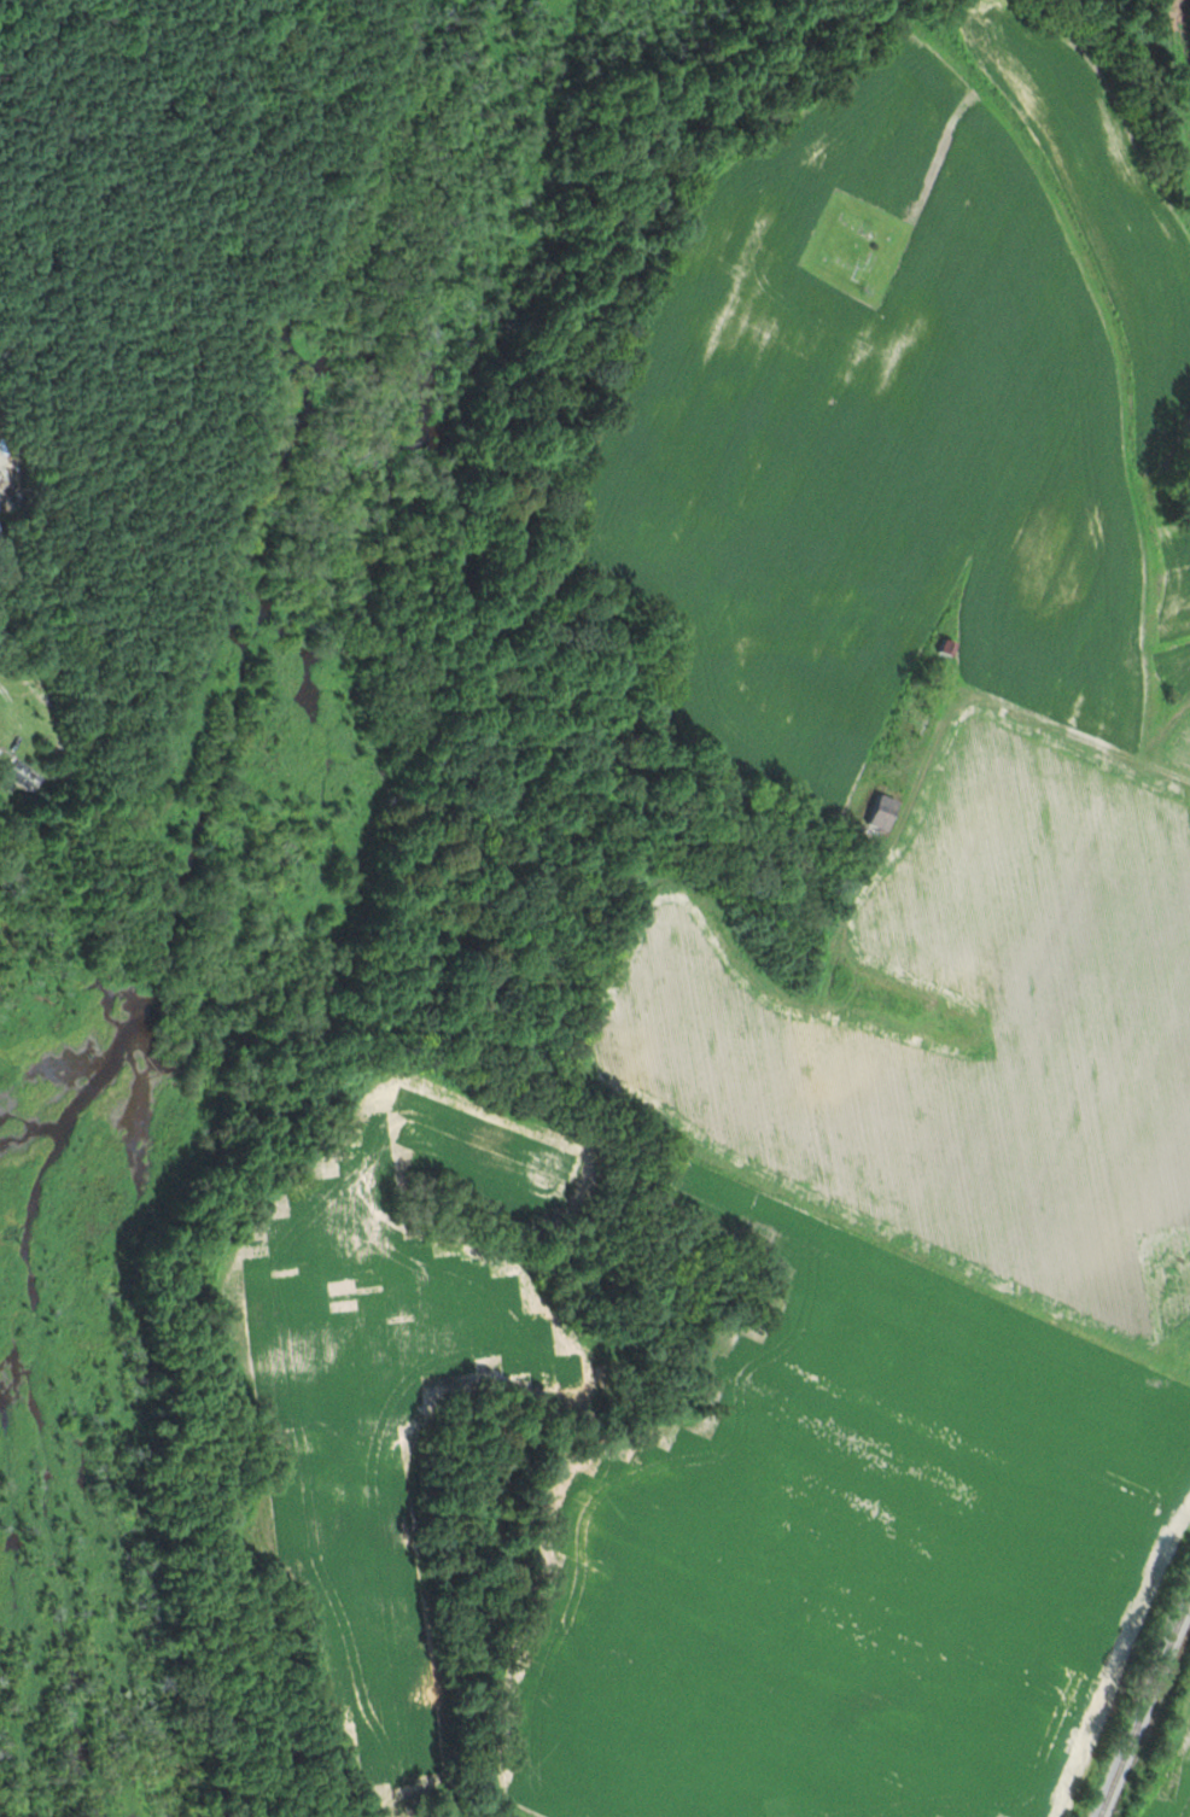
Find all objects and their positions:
road: (1027, 709)
building: (876, 813)
railway: (1138, 1692)

